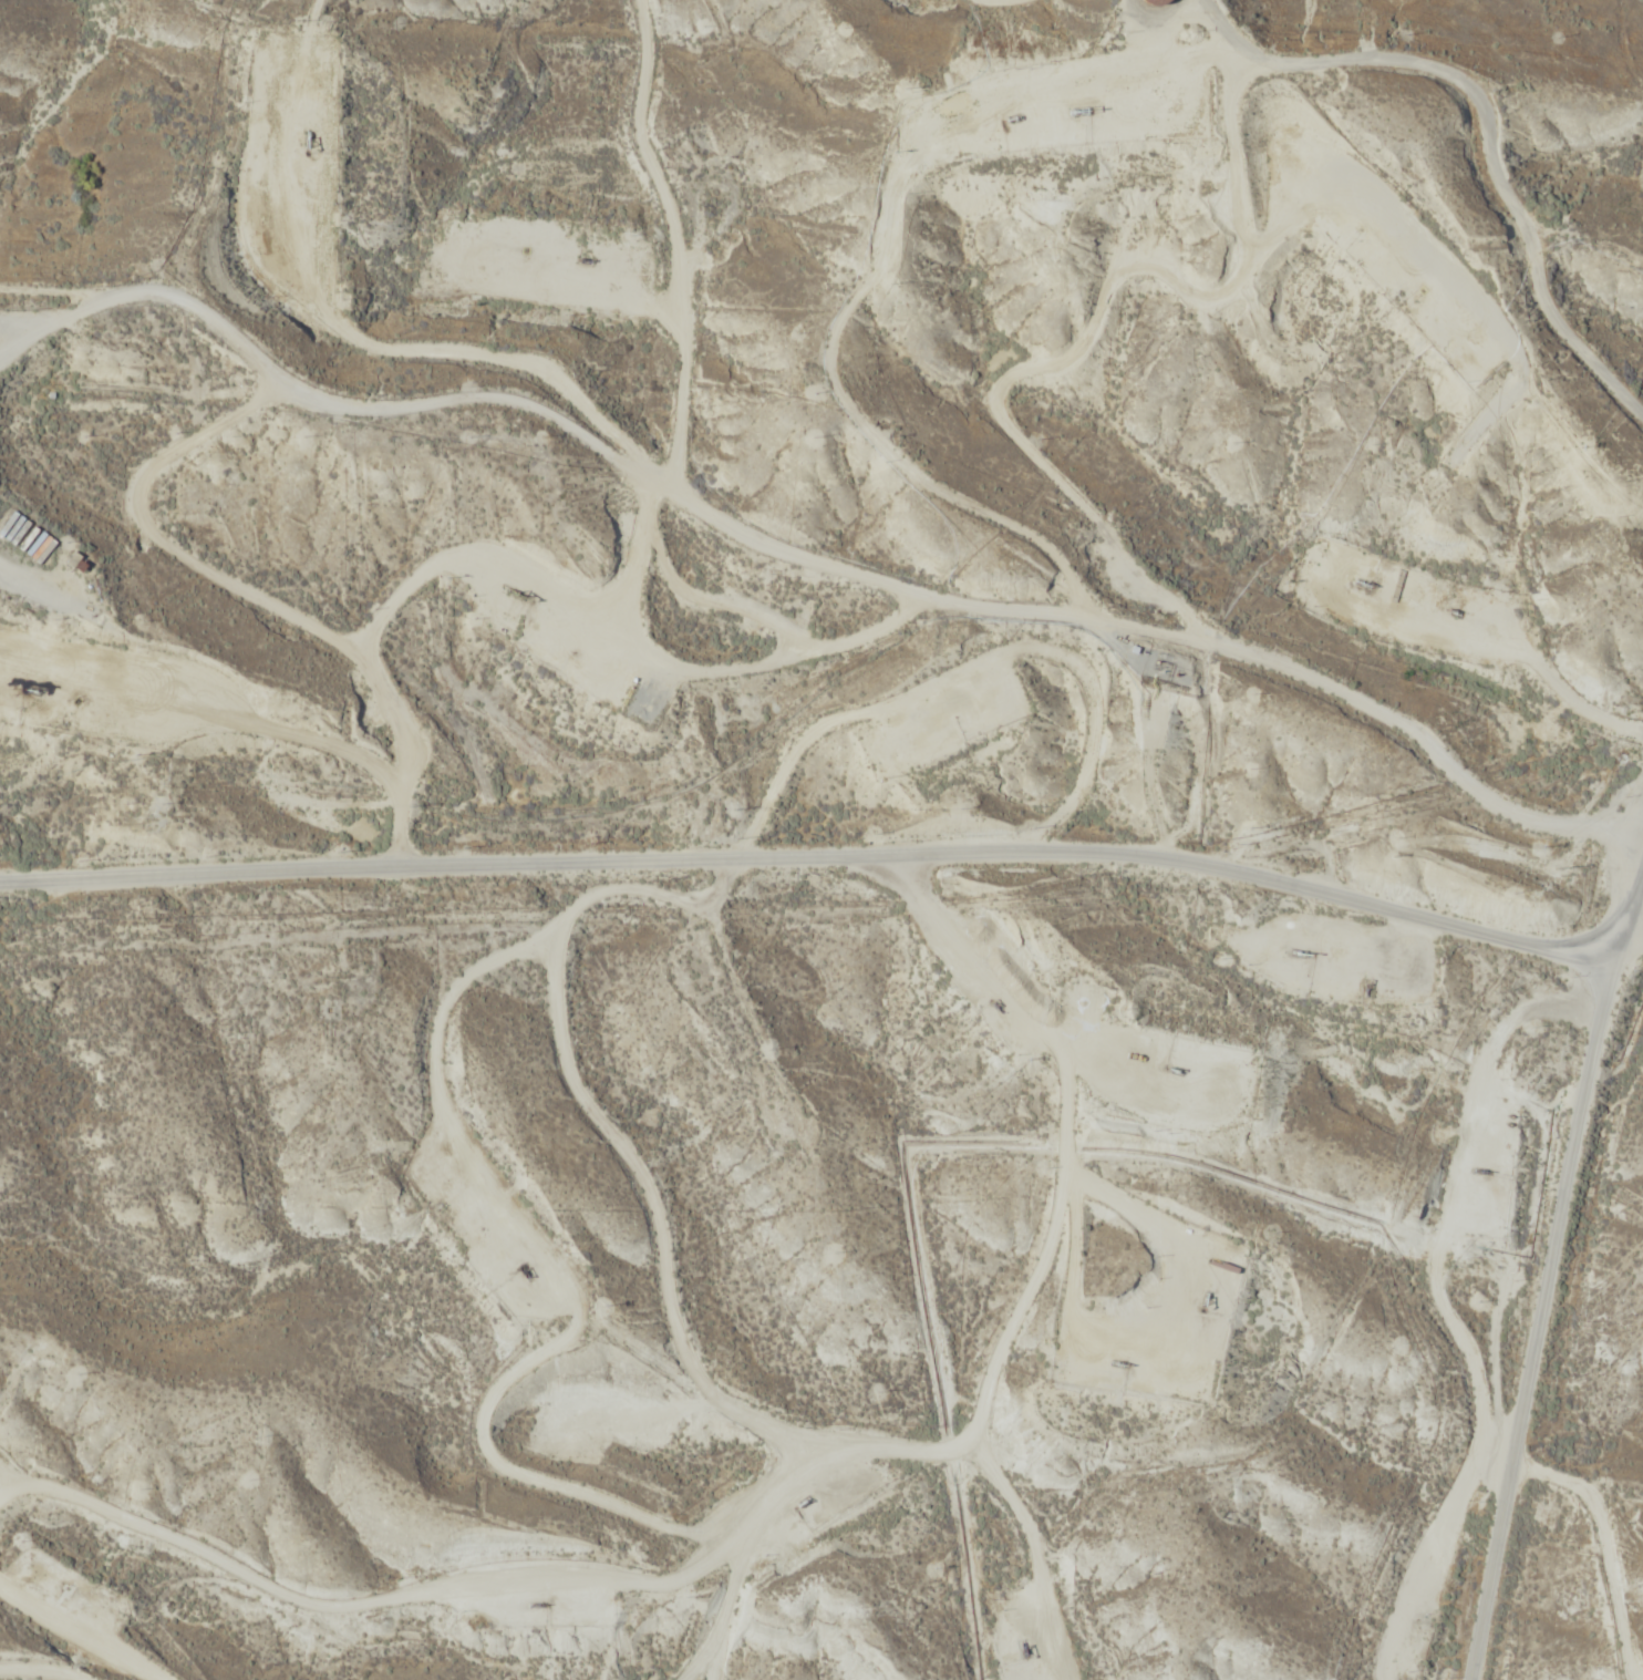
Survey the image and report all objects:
building: (1162, 1)
road: (360, 251)
road: (880, 262)
road: (1040, 351)
road: (588, 481)
petroleum well: (1366, 584)
road: (297, 606)
petroleum well: (1453, 611)
building: (639, 704)
road: (826, 862)
road: (1629, 909)
petroleum well: (1300, 952)
petroleum well: (1172, 1072)
petroleum well: (1480, 1171)
petroleum well: (1203, 1298)
road: (1536, 1312)
road: (733, 1358)
road: (359, 1536)
road: (1605, 1545)

